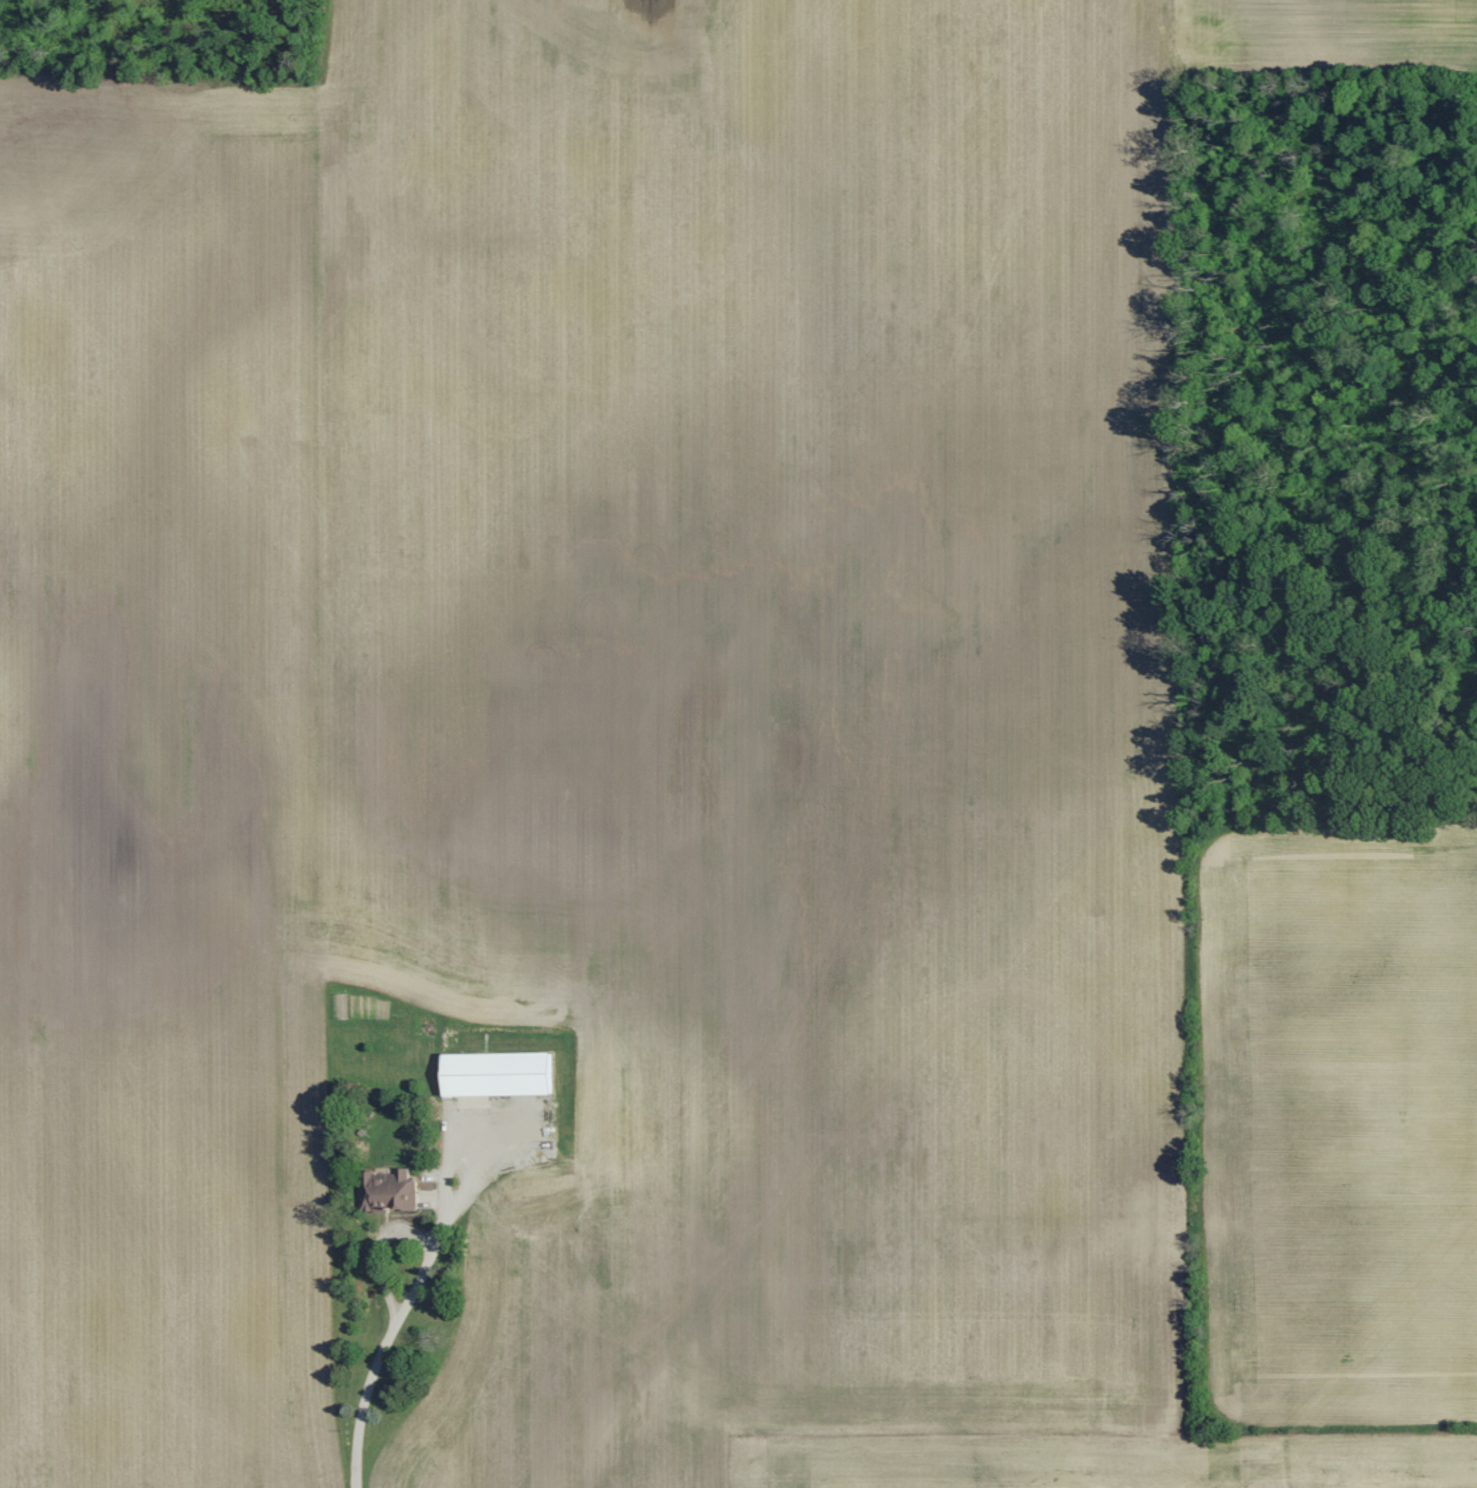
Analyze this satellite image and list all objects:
building: (494, 1074)
building: (387, 1192)
road: (378, 1244)
road: (402, 1310)

